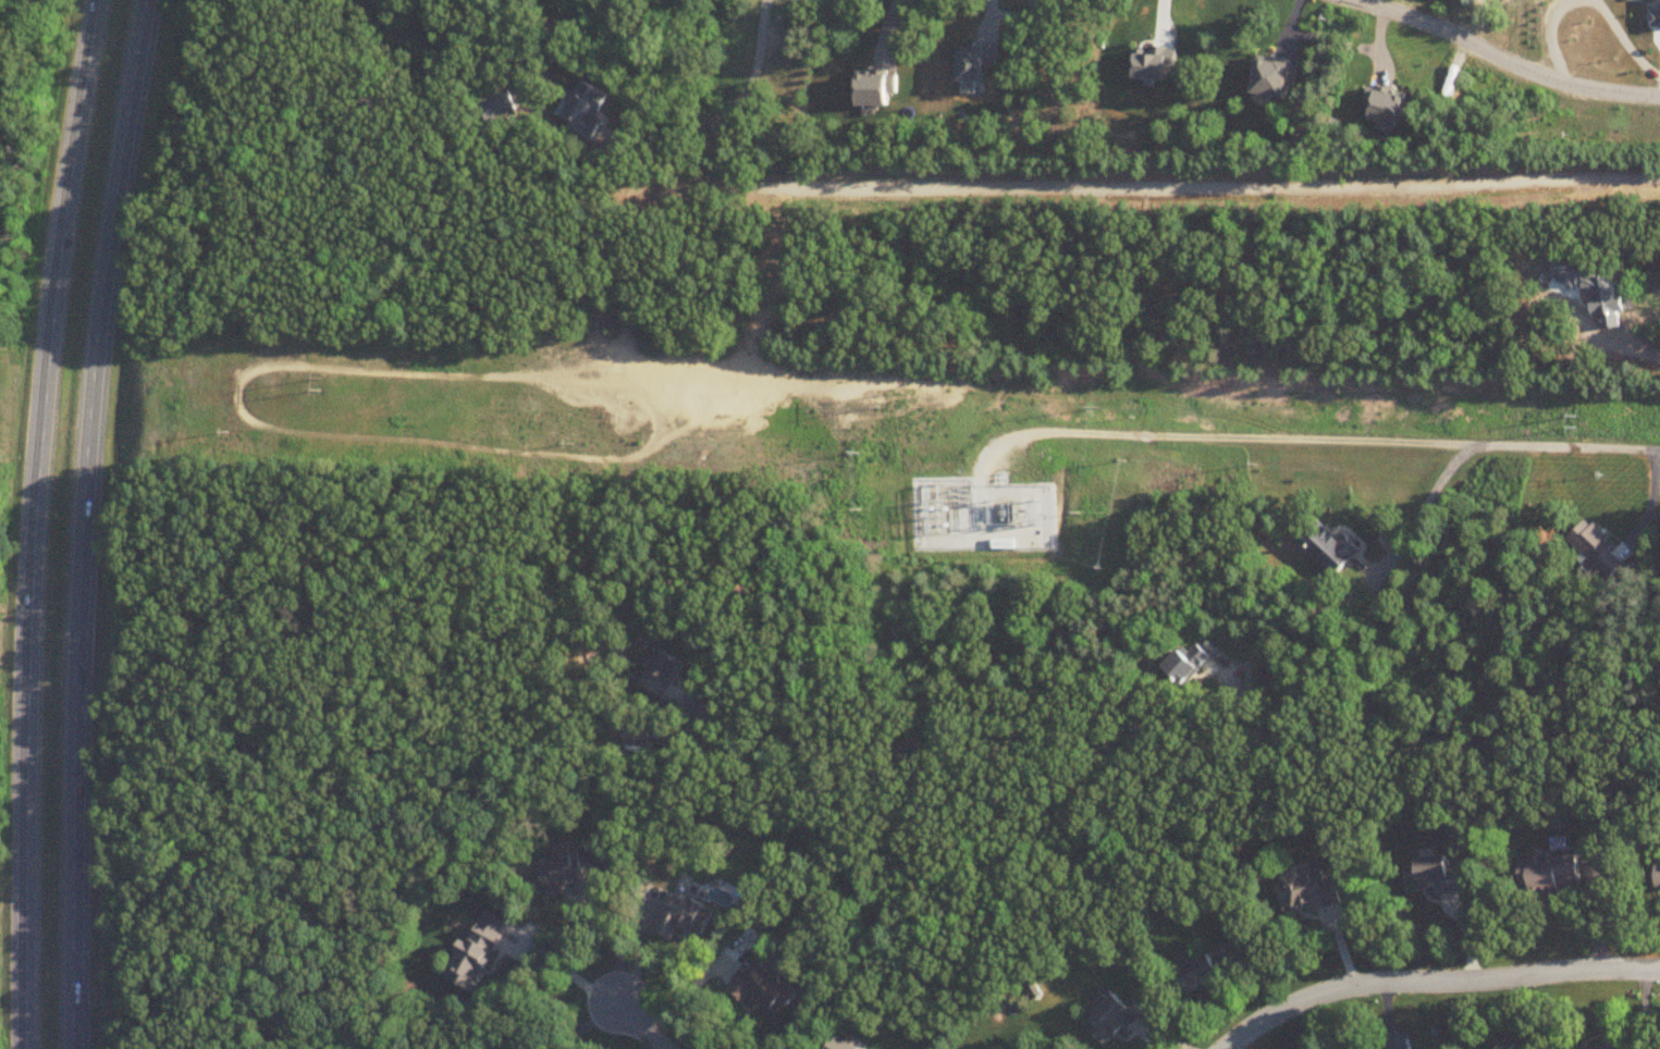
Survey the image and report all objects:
road: (1501, 60)
road: (730, 109)
building: (589, 111)
power tower: (318, 378)
power tower: (881, 397)
power tower: (1562, 419)
road: (1316, 435)
road: (1427, 502)
road: (1650, 504)
road: (33, 522)
road: (90, 522)
building: (1004, 545)
building: (1330, 548)
building: (1598, 551)
building: (1190, 663)
building: (664, 672)
building: (638, 733)
road: (1182, 748)
building: (565, 873)
building: (1554, 875)
building: (1439, 877)
building: (1658, 877)
building: (1311, 893)
building: (685, 918)
road: (618, 945)
building: (477, 955)
building: (1212, 970)
road: (574, 977)
road: (1436, 978)
building: (764, 991)
building: (1118, 1020)
road: (579, 1027)
road: (647, 1029)
building: (840, 1045)
building: (1611, 1048)

